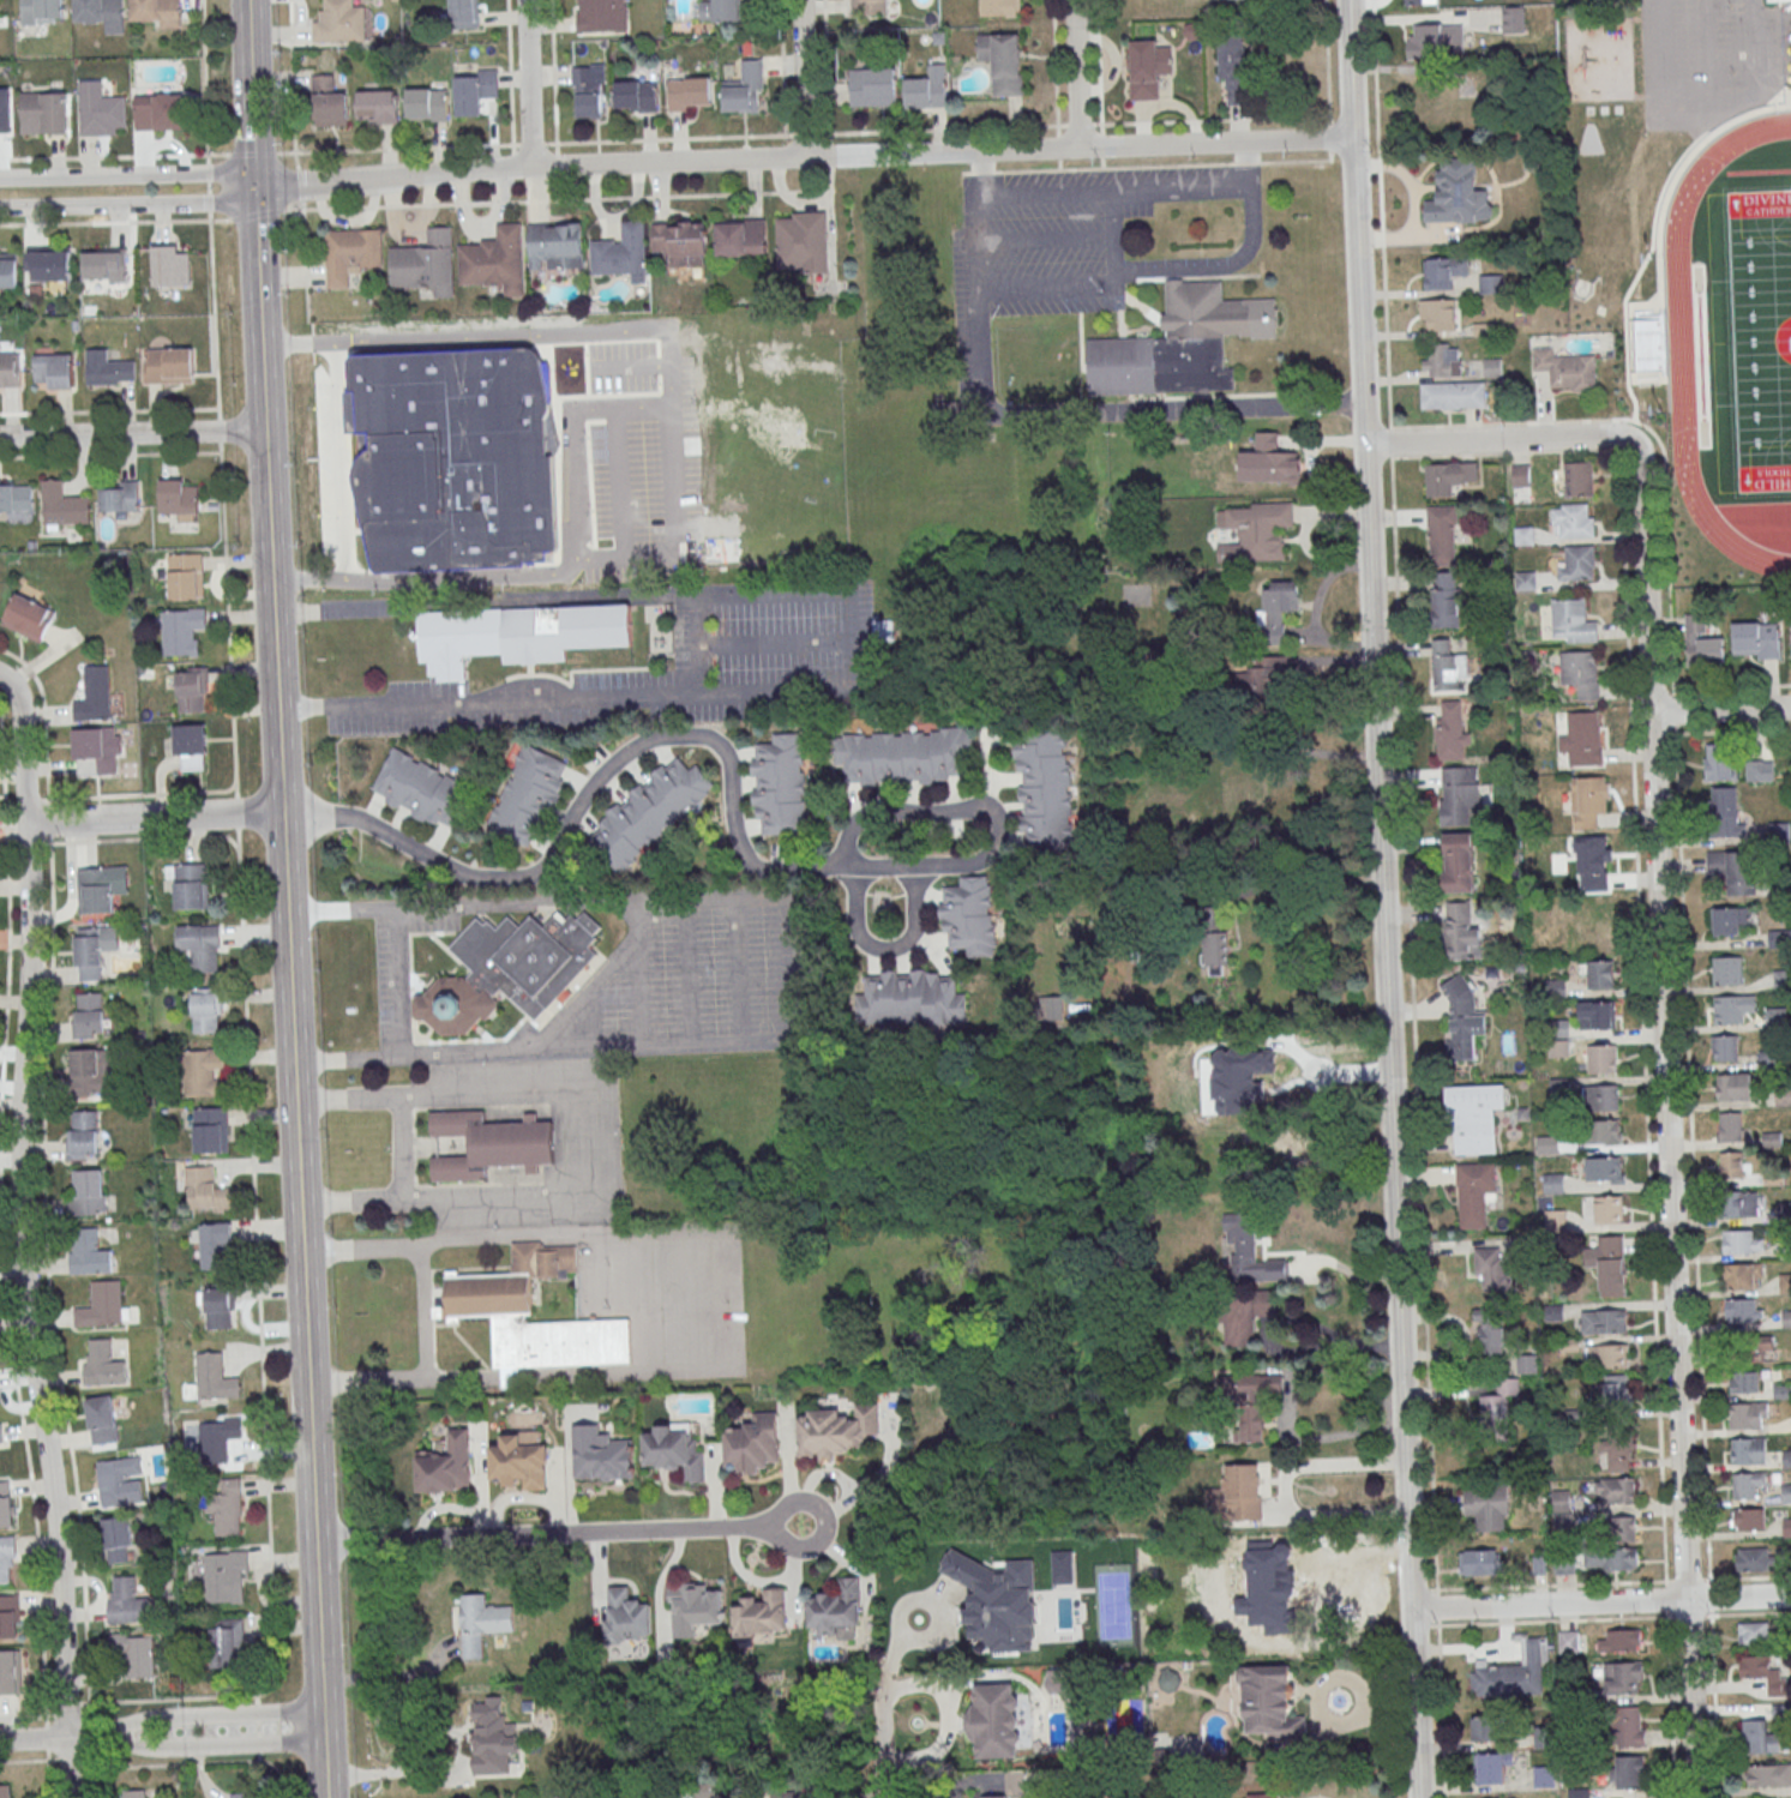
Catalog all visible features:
building: (1778, 0)
building: (1422, 1)
building: (869, 6)
building: (999, 7)
building: (720, 11)
building: (42, 12)
building: (158, 12)
building: (102, 13)
building: (463, 14)
building: (600, 16)
building: (1513, 18)
building: (341, 23)
building: (1436, 41)
road: (1709, 52)
building: (1003, 60)
road: (1328, 61)
road: (1053, 65)
road: (1096, 65)
road: (825, 66)
building: (1233, 66)
road: (781, 67)
building: (1147, 67)
road: (1075, 73)
road: (510, 77)
road: (803, 78)
road: (553, 82)
road: (529, 83)
road: (292, 84)
building: (872, 86)
building: (745, 90)
building: (474, 91)
building: (925, 91)
building: (587, 92)
road: (252, 94)
building: (690, 94)
building: (635, 96)
building: (327, 103)
road: (1711, 103)
building: (425, 104)
building: (375, 107)
building: (101, 109)
building: (160, 112)
building: (44, 113)
road: (1345, 114)
building: (4, 118)
road: (1214, 119)
road: (1078, 124)
road: (942, 128)
road: (805, 133)
road: (1329, 137)
road: (668, 138)
road: (530, 143)
road: (1099, 143)
road: (1057, 145)
road: (396, 148)
road: (251, 154)
road: (1328, 155)
road: (113, 156)
road: (795, 157)
road: (208, 158)
road: (1359, 158)
road: (1299, 160)
road: (512, 161)
road: (1100, 161)
road: (1246, 161)
road: (1058, 164)
road: (1112, 166)
road: (963, 170)
road: (980, 170)
road: (208, 173)
road: (120, 175)
road: (299, 185)
traffic signals: (256, 187)
road: (208, 188)
road: (1118, 191)
building: (1458, 193)
road: (557, 199)
road: (121, 204)
road: (209, 204)
road: (1380, 214)
road: (254, 216)
road: (113, 222)
parking lot: (1066, 235)
building: (741, 237)
building: (804, 241)
building: (680, 243)
building: (554, 246)
building: (353, 253)
building: (623, 253)
building: (495, 260)
road: (305, 261)
building: (426, 263)
building: (48, 265)
building: (104, 266)
building: (170, 266)
road: (1218, 269)
building: (8, 270)
building: (1443, 271)
building: (1490, 283)
road: (1094, 285)
road: (259, 308)
building: (1441, 313)
road: (214, 314)
park: (1751, 337)
building: (1180, 344)
track: (1682, 354)
building: (1442, 360)
building: (169, 366)
building: (1492, 366)
building: (107, 368)
building: (1565, 368)
building: (10, 369)
building: (54, 369)
building: (1453, 393)
road: (109, 410)
road: (1058, 411)
building: (948, 414)
road: (218, 429)
road: (1652, 432)
road: (132, 433)
road: (1498, 439)
road: (1389, 440)
road: (1621, 441)
building: (503, 445)
road: (1633, 449)
road: (661, 451)
road: (1509, 452)
road: (609, 453)
road: (110, 456)
road: (564, 456)
building: (1272, 462)
building: (1448, 476)
building: (1579, 477)
building: (119, 495)
building: (16, 497)
building: (178, 499)
building: (64, 506)
building: (1573, 519)
road: (269, 521)
building: (1254, 530)
building: (1443, 534)
building: (1523, 535)
building: (1579, 563)
building: (185, 576)
building: (1526, 579)
building: (1446, 597)
road: (485, 603)
building: (1278, 608)
building: (28, 618)
road: (228, 619)
building: (1574, 620)
parking lot: (774, 626)
building: (884, 630)
building: (181, 631)
building: (518, 635)
building: (1756, 639)
building: (1702, 642)
building: (1448, 665)
building: (1581, 672)
building: (1268, 678)
road: (2, 679)
road: (1732, 686)
building: (192, 690)
building: (94, 694)
road: (536, 700)
road: (1675, 710)
road: (1720, 711)
building: (1450, 729)
road: (1733, 729)
building: (1583, 739)
building: (190, 747)
building: (96, 751)
building: (902, 754)
building: (1720, 762)
building: (1760, 769)
road: (729, 782)
building: (780, 784)
building: (1045, 787)
building: (423, 788)
building: (1459, 793)
building: (527, 798)
building: (1588, 800)
building: (1238, 805)
building: (1725, 810)
building: (649, 812)
road: (236, 813)
road: (152, 817)
building: (1460, 862)
building: (1591, 862)
building: (1732, 870)
road: (1300, 877)
building: (192, 886)
building: (101, 889)
road: (1382, 898)
building: (969, 914)
building: (1731, 920)
building: (1461, 932)
building: (200, 946)
road: (884, 948)
building: (95, 949)
building: (1215, 952)
building: (509, 970)
road: (789, 972)
building: (1729, 972)
building: (1601, 974)
parking lot: (693, 980)
road: (397, 981)
building: (1557, 988)
building: (910, 998)
building: (1053, 1006)
building: (1733, 1008)
building: (210, 1010)
building: (1598, 1014)
building: (88, 1015)
road: (1643, 1015)
building: (1462, 1020)
road: (1413, 1021)
building: (1559, 1028)
building: (1725, 1047)
building: (1559, 1050)
building: (1598, 1058)
building: (1210, 1068)
building: (203, 1072)
building: (86, 1074)
building: (1735, 1087)
building: (1561, 1088)
building: (1783, 1095)
building: (1601, 1096)
building: (1476, 1116)
road: (1666, 1118)
building: (1738, 1125)
building: (211, 1130)
building: (1604, 1130)
building: (83, 1135)
road: (567, 1139)
building: (491, 1145)
building: (1549, 1145)
road: (402, 1147)
road: (1691, 1151)
building: (1731, 1163)
building: (1603, 1168)
building: (1555, 1184)
building: (204, 1191)
building: (1476, 1191)
building: (88, 1192)
building: (1739, 1203)
road: (301, 1204)
building: (1610, 1210)
building: (1785, 1213)
building: (1556, 1220)
building: (1245, 1231)
road: (600, 1232)
road: (22, 1238)
building: (1743, 1240)
building: (216, 1246)
building: (1786, 1249)
building: (89, 1253)
building: (1611, 1265)
building: (1260, 1267)
building: (1495, 1274)
building: (1741, 1276)
building: (1785, 1283)
building: (101, 1305)
building: (217, 1309)
building: (483, 1311)
road: (425, 1312)
building: (1743, 1312)
building: (1249, 1316)
building: (1604, 1319)
building: (1786, 1319)
road: (1298, 1321)
building: (1490, 1331)
building: (1762, 1343)
building: (1610, 1354)
road: (262, 1357)
building: (102, 1364)
road: (511, 1376)
building: (215, 1378)
road: (407, 1379)
building: (1743, 1381)
building: (1617, 1387)
building: (1252, 1399)
building: (1496, 1405)
road: (1290, 1407)
building: (1747, 1415)
building: (101, 1420)
building: (1243, 1425)
building: (837, 1432)
building: (0, 1435)
building: (218, 1438)
building: (753, 1444)
building: (1618, 1447)
building: (673, 1451)
building: (1749, 1451)
building: (602, 1455)
building: (1787, 1460)
building: (519, 1461)
road: (1322, 1465)
building: (447, 1467)
building: (118, 1485)
building: (1751, 1485)
building: (1615, 1490)
building: (1786, 1493)
building: (1238, 1496)
building: (5, 1505)
building: (227, 1507)
building: (1488, 1507)
road: (1336, 1515)
building: (1748, 1517)
road: (625, 1527)
building: (1624, 1528)
building: (1787, 1528)
building: (118, 1539)
building: (1753, 1557)
building: (1610, 1559)
building: (7, 1561)
building: (1482, 1562)
building: (1242, 1575)
building: (227, 1576)
road: (1747, 1576)
road: (1687, 1578)
road: (1709, 1581)
road: (1551, 1583)
road: (1423, 1589)
road: (1437, 1592)
road: (1709, 1596)
road: (1666, 1598)
building: (127, 1601)
road: (1600, 1601)
road: (1437, 1607)
building: (693, 1608)
building: (836, 1608)
building: (988, 1613)
road: (1748, 1613)
building: (761, 1614)
road: (1689, 1614)
building: (627, 1616)
building: (8, 1617)
road: (1552, 1620)
building: (482, 1624)
road: (1422, 1625)
building: (1754, 1632)
building: (1621, 1640)
building: (1569, 1641)
building: (228, 1647)
building: (134, 1653)
building: (11, 1671)
building: (1513, 1671)
building: (1763, 1672)
road: (398, 1677)
building: (1623, 1677)
building: (1170, 1679)
road: (254, 1697)
building: (1269, 1701)
road: (1670, 1703)
road: (1714, 1703)
road: (1442, 1708)
road: (67, 1709)
road: (254, 1710)
road: (193, 1714)
road: (28, 1716)
building: (998, 1720)
building: (1628, 1726)
road: (256, 1727)
building: (1486, 1727)
building: (1759, 1737)
road: (34, 1739)
building: (495, 1739)
road: (257, 1742)
road: (881, 1743)
road: (196, 1746)
road: (258, 1756)
road: (28, 1760)
road: (193, 1762)
road: (68, 1763)
building: (1492, 1766)
building: (1627, 1772)
building: (1543, 1775)
building: (1766, 1775)
building: (5, 1791)
building: (1577, 1792)
building: (134, 1793)
building: (783, 1794)
building: (240, 1796)
building: (991, 1796)
building: (1257, 1796)
building: (569, 1797)

